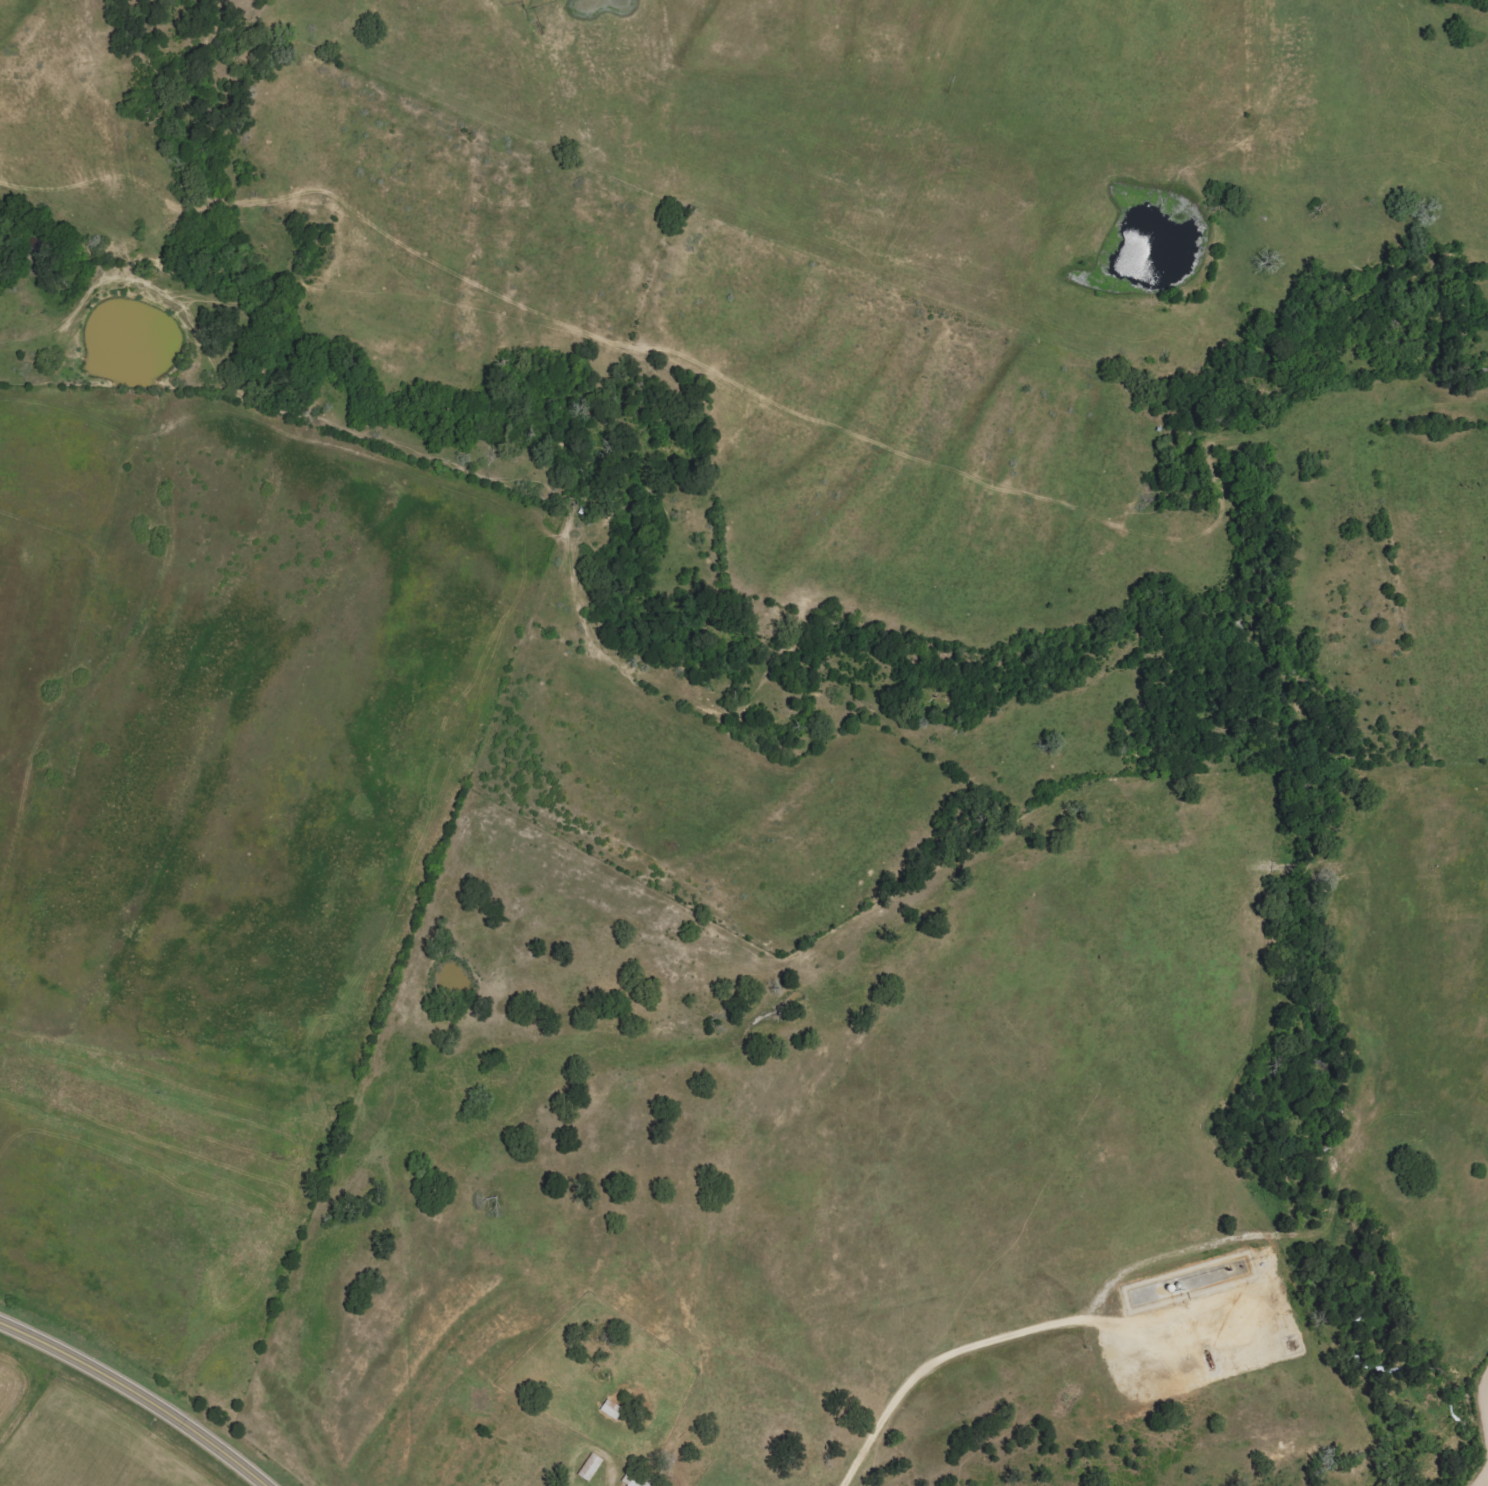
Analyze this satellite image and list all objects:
petroleum well: (1210, 1357)
road: (142, 1393)
building: (611, 1409)
building: (590, 1467)
building: (639, 1481)

